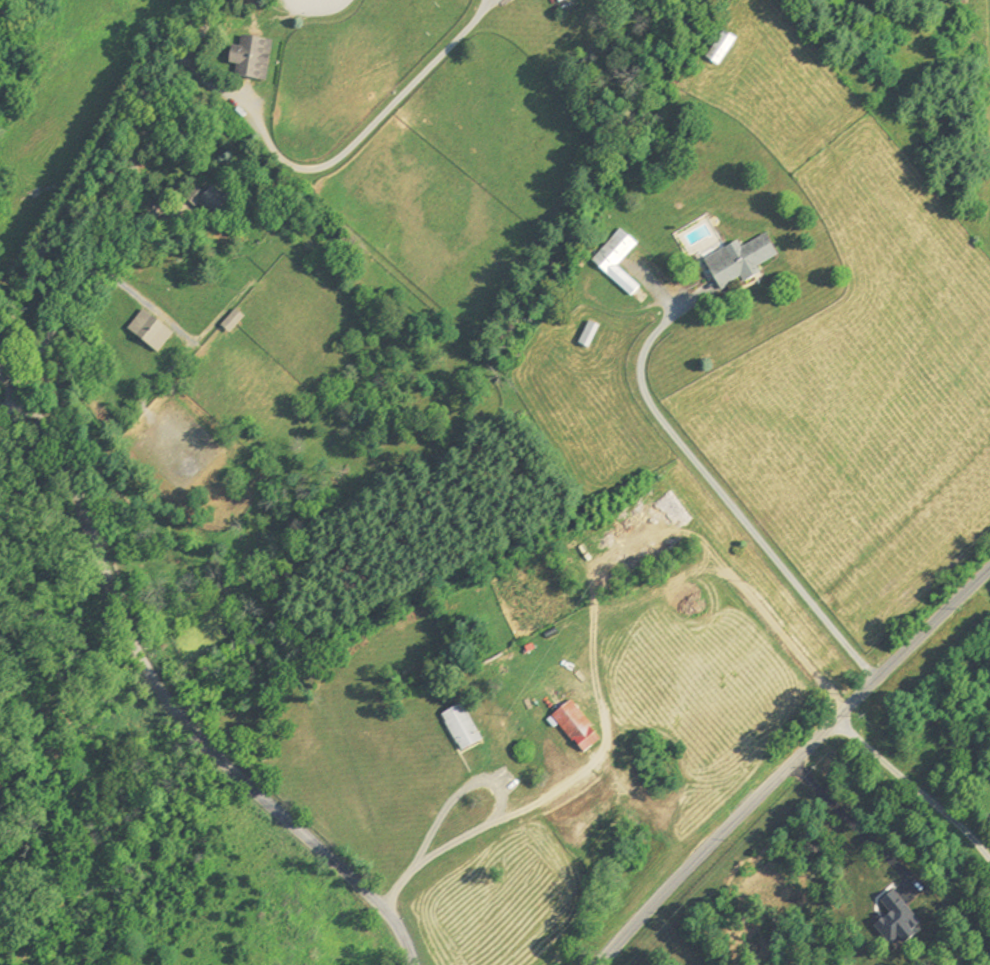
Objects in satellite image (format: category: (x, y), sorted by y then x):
road: (202, 31)
building: (719, 48)
building: (249, 58)
road: (343, 152)
road: (88, 175)
building: (203, 200)
building: (614, 261)
building: (737, 262)
road: (72, 296)
building: (146, 332)
building: (586, 335)
road: (9, 404)
road: (727, 499)
road: (160, 695)
building: (458, 728)
building: (573, 728)
road: (790, 761)
road: (913, 786)
road: (461, 793)
road: (851, 823)
road: (487, 829)

